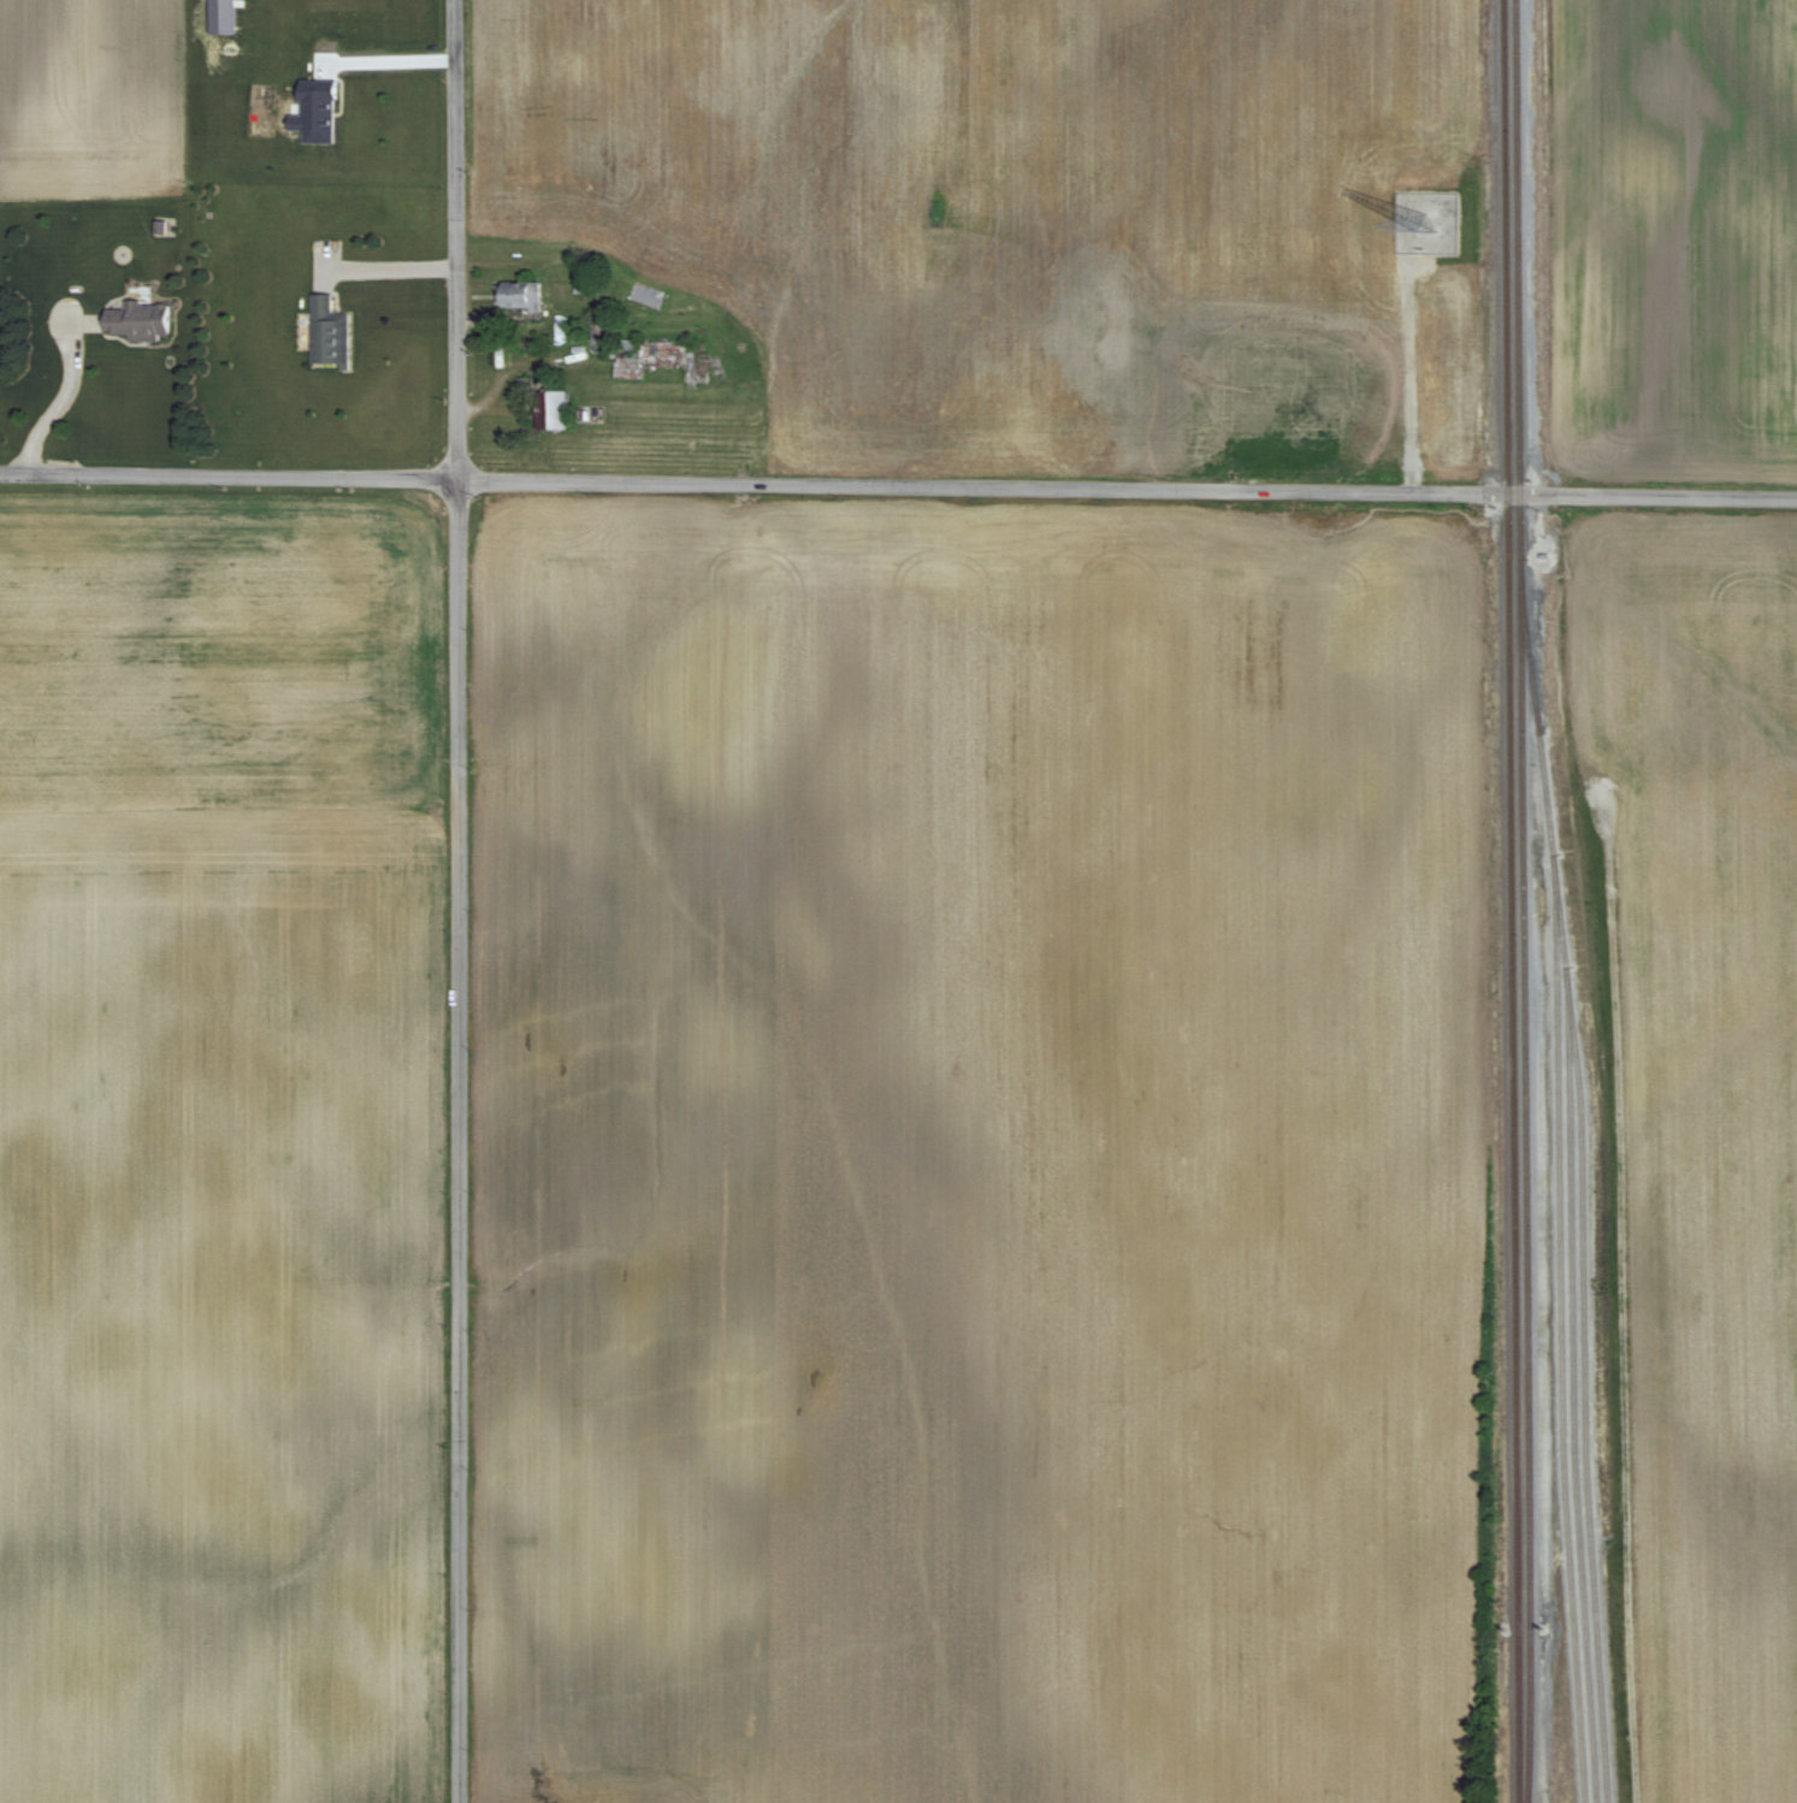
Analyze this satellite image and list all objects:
road: (389, 58)
building: (318, 112)
road: (389, 265)
building: (518, 296)
building: (138, 319)
building: (327, 332)
building: (662, 360)
road: (1409, 372)
road: (57, 401)
building: (544, 409)
road: (898, 486)
railway: (1549, 827)
road: (457, 900)
railway: (1512, 901)
railway: (1523, 901)
railway: (1560, 1340)
railway: (1573, 1395)
railway: (1585, 1449)

